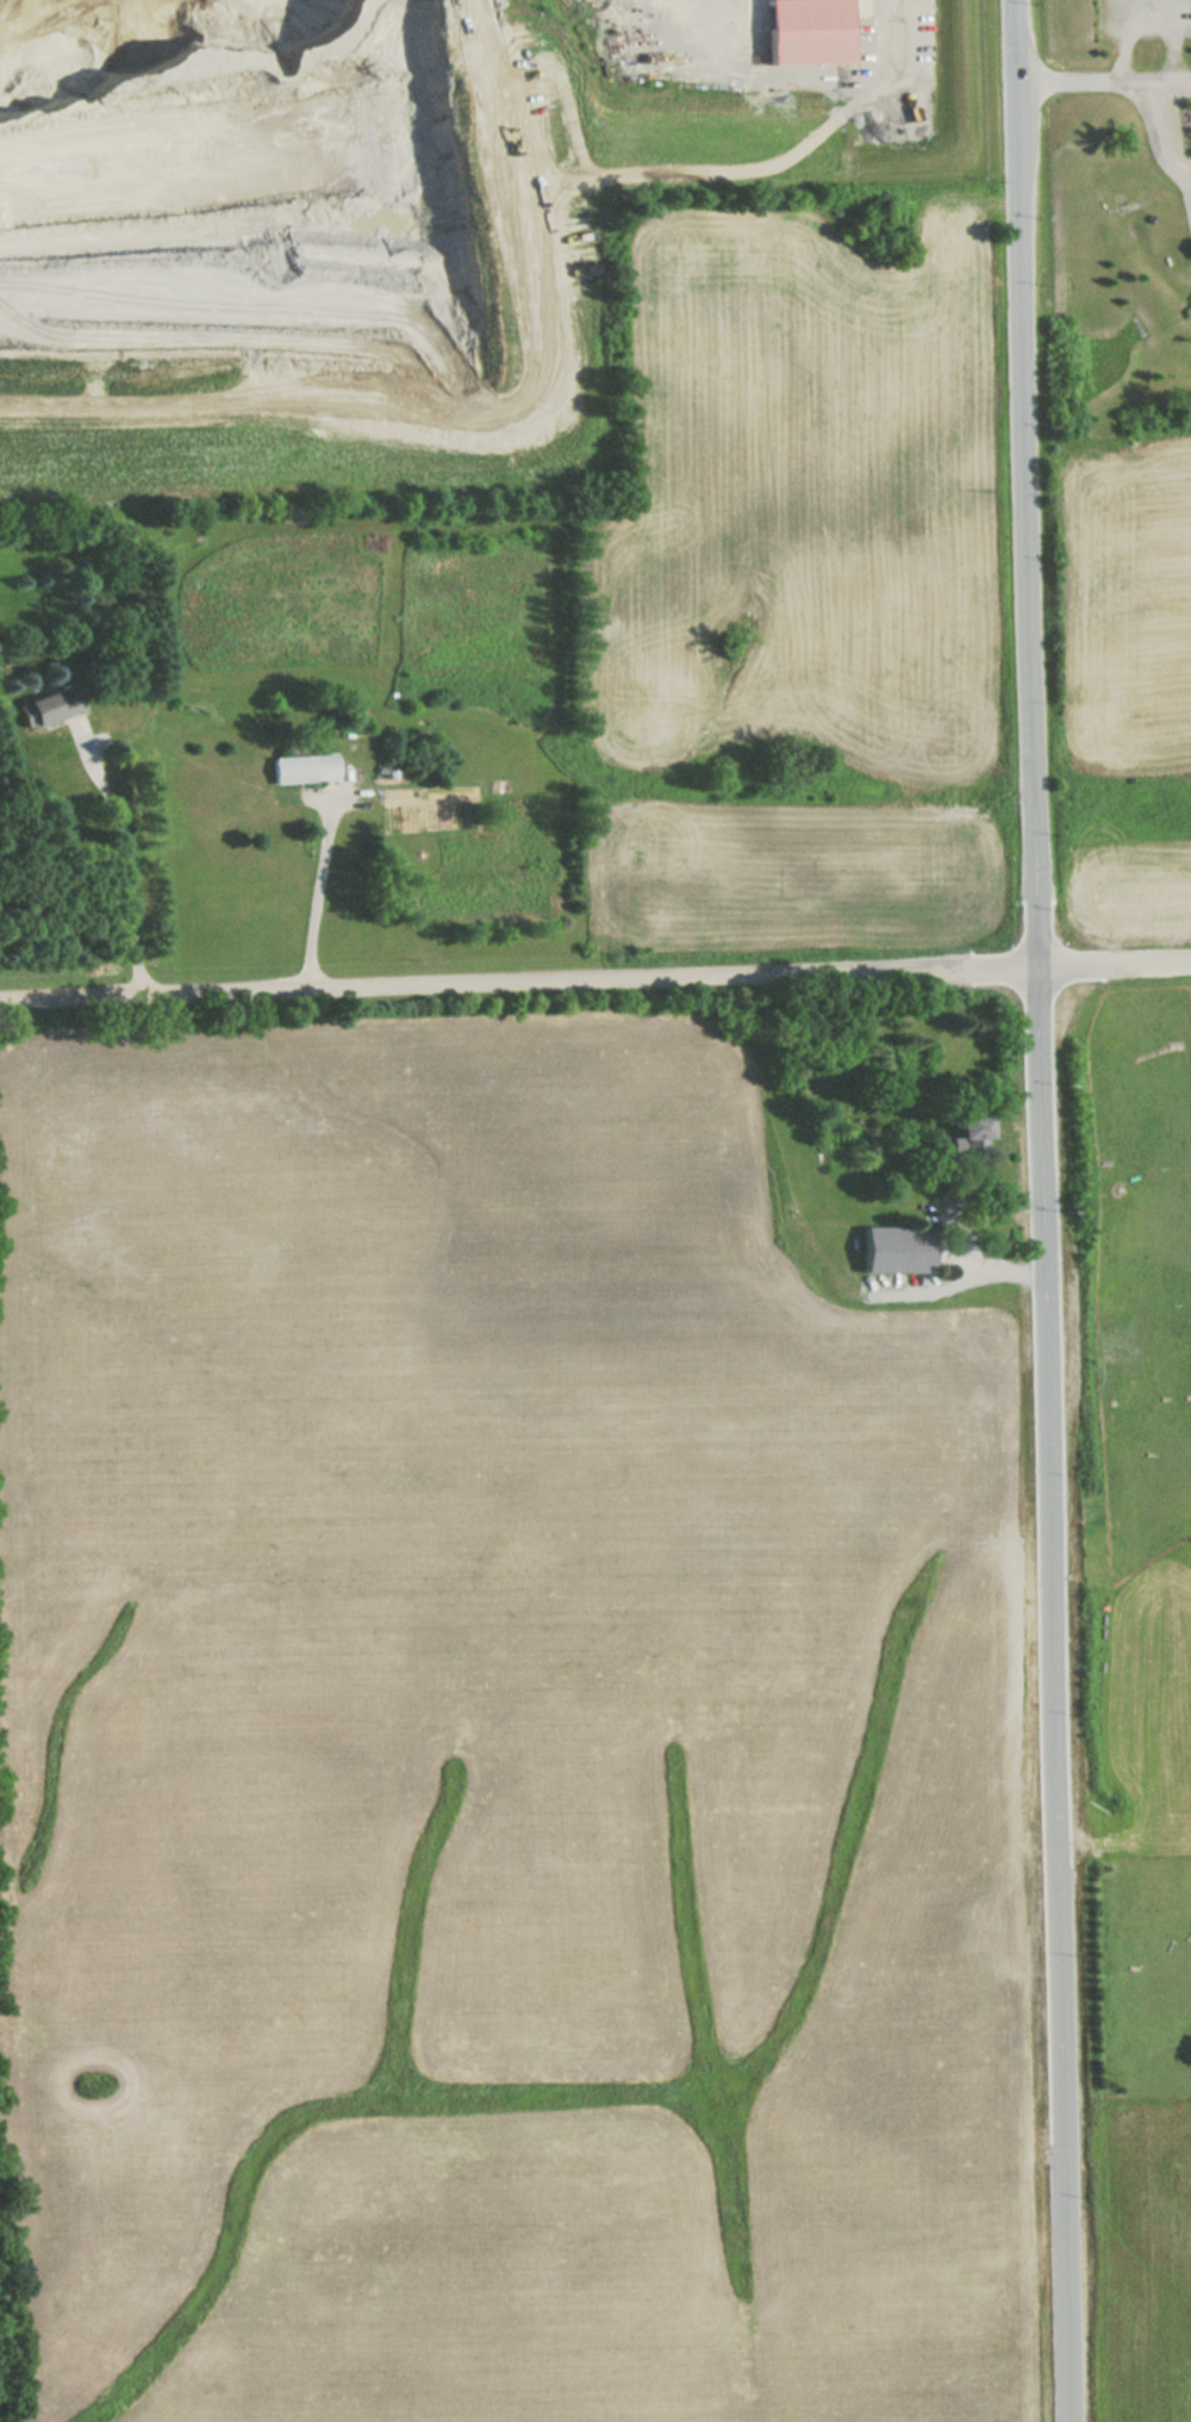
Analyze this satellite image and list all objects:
building: (809, 31)
road: (1160, 83)
road: (1072, 87)
road: (1155, 142)
quarry: (381, 208)
road: (1025, 480)
building: (48, 710)
building: (306, 768)
road: (126, 855)
road: (319, 897)
road: (1151, 959)
road: (1073, 960)
road: (996, 963)
road: (478, 984)
building: (968, 1138)
road: (952, 1228)
building: (897, 1251)
road: (1054, 1692)

